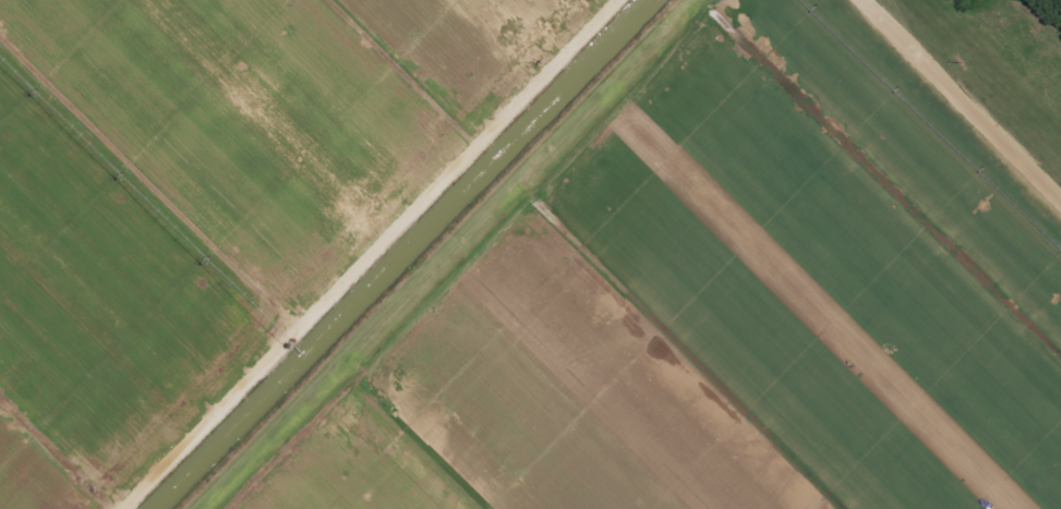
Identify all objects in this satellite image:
road: (958, 101)
road: (373, 254)

